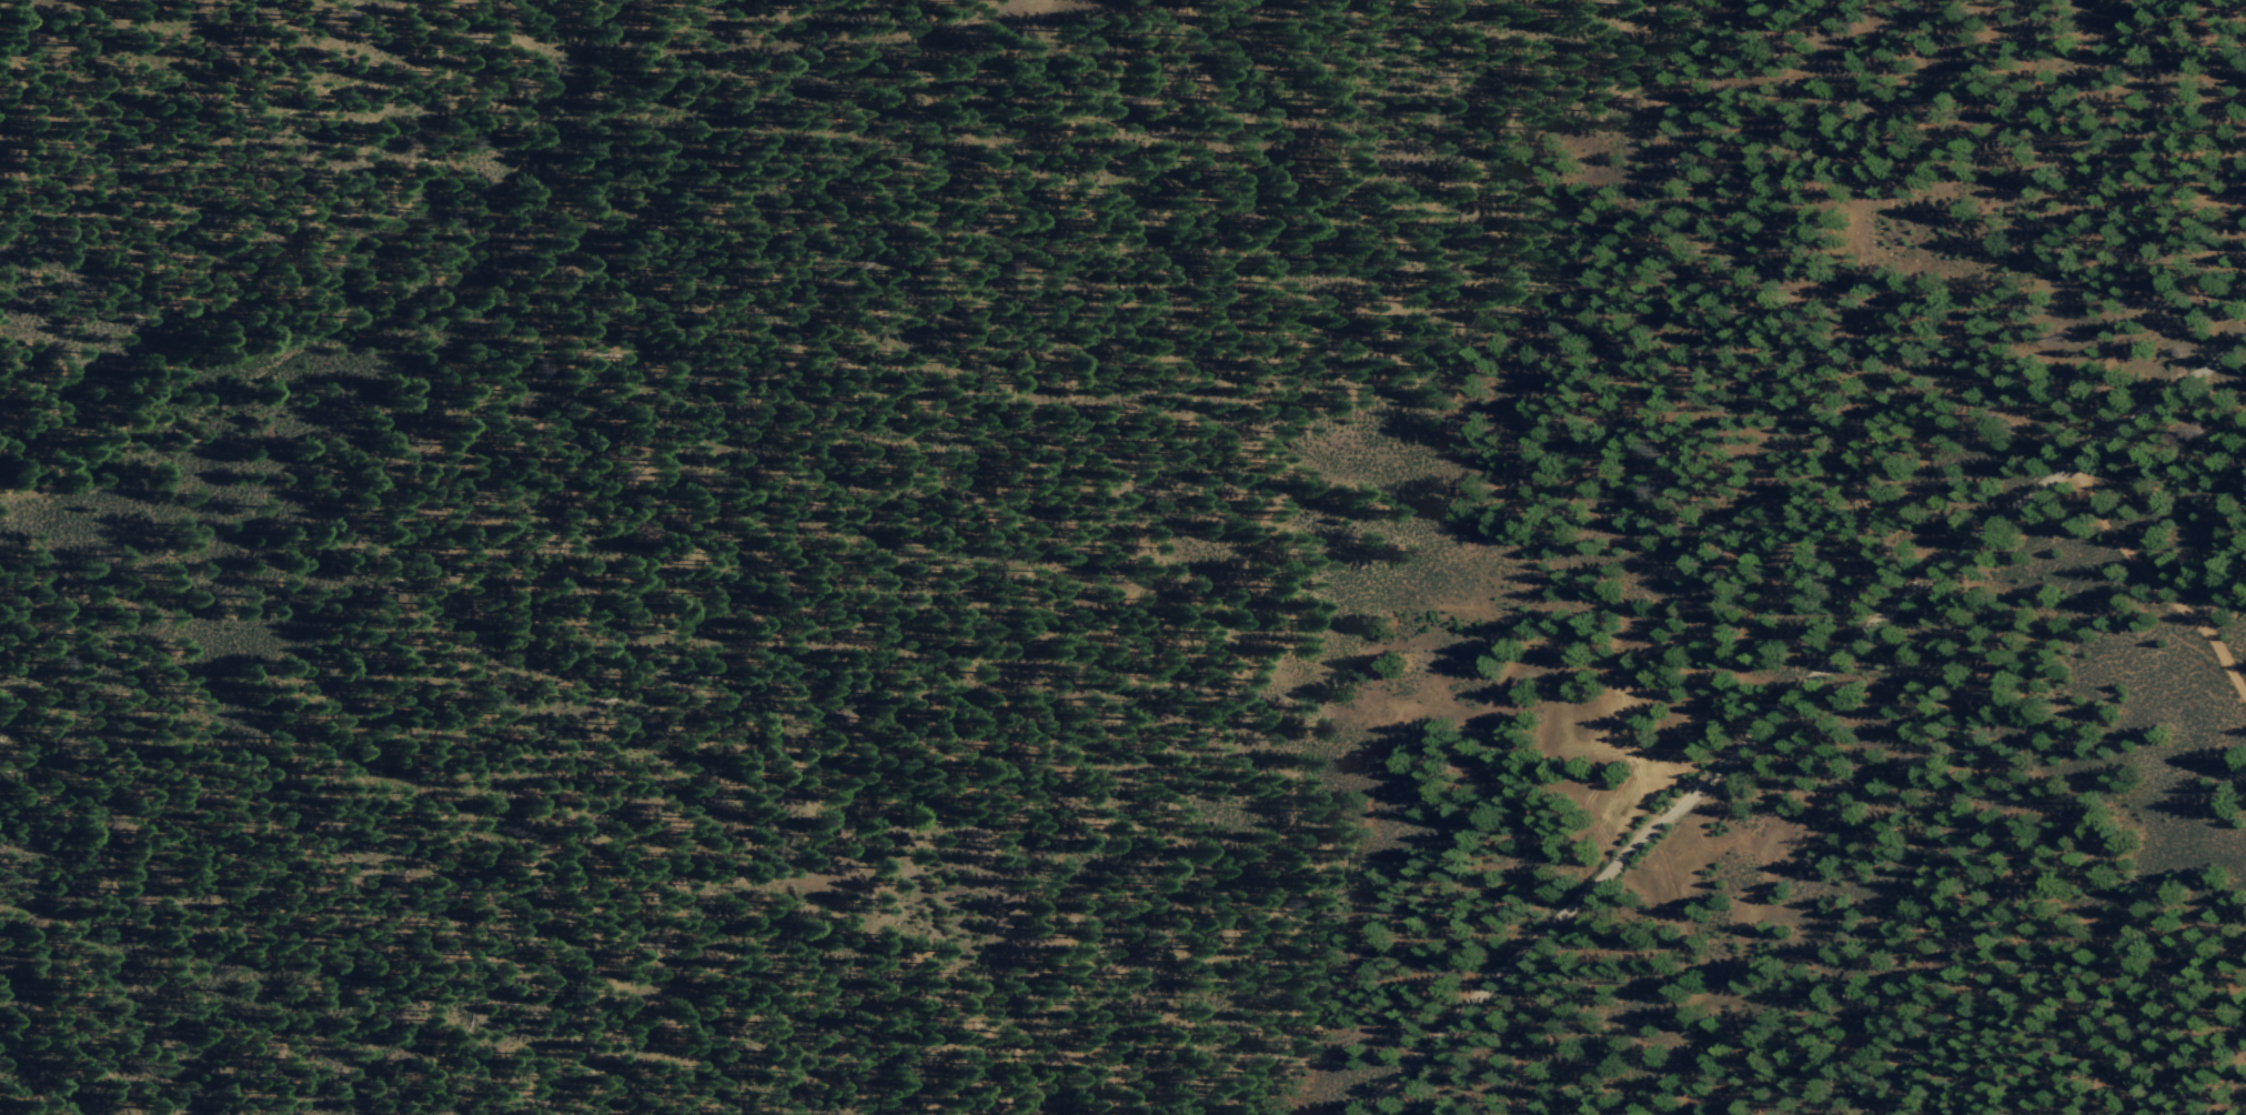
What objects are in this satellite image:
road: (2155, 585)
road: (1851, 642)
road: (1422, 1047)

